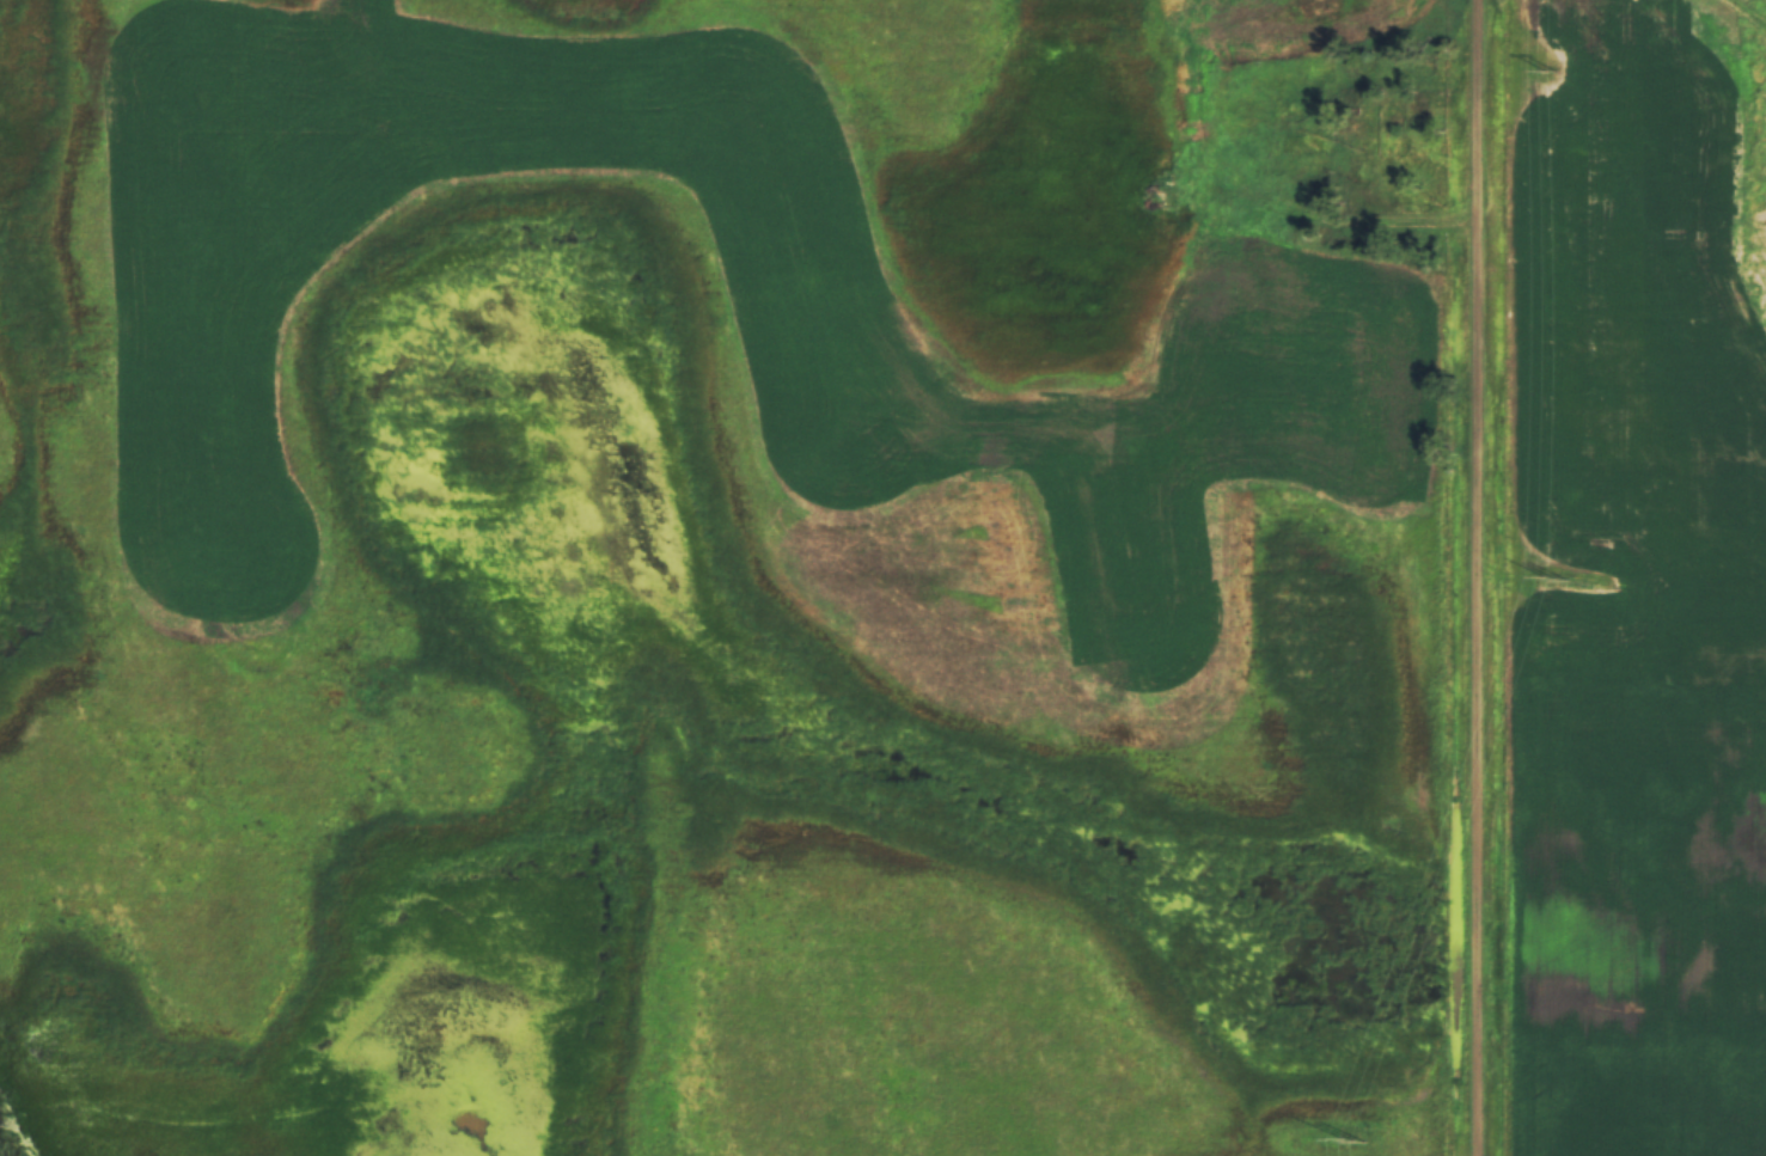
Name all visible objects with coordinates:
power tower: (1552, 71)
road: (1485, 577)
power tower: (1554, 580)
power tower: (1353, 1142)

